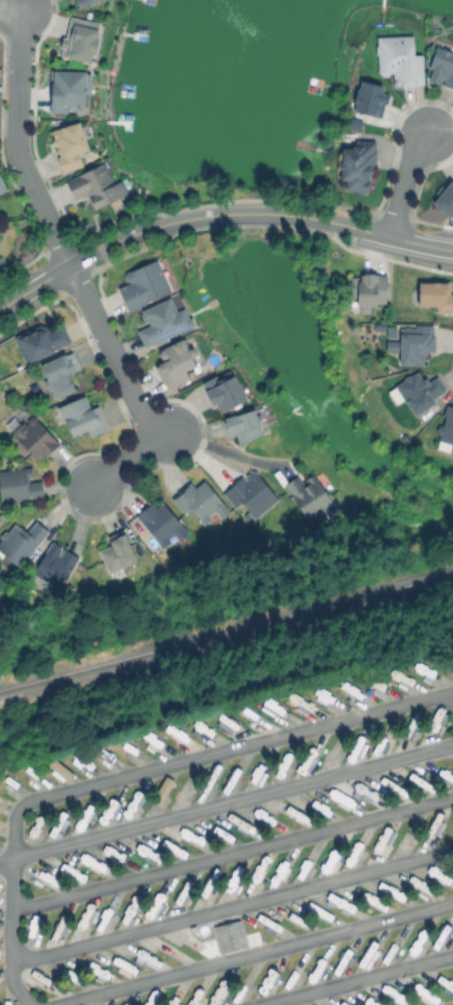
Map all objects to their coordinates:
building: (85, 1)
road: (11, 6)
building: (82, 36)
building: (400, 57)
building: (441, 63)
building: (68, 87)
building: (370, 96)
building: (355, 122)
building: (71, 143)
building: (358, 161)
road: (405, 181)
building: (3, 182)
building: (97, 184)
building: (446, 195)
road: (250, 214)
road: (334, 223)
road: (142, 231)
road: (420, 244)
building: (1, 264)
road: (73, 275)
building: (146, 282)
road: (34, 287)
building: (368, 288)
building: (435, 292)
building: (165, 320)
building: (380, 325)
building: (42, 339)
building: (414, 341)
building: (178, 361)
building: (61, 373)
building: (225, 390)
building: (420, 390)
building: (84, 415)
building: (245, 423)
building: (447, 426)
building: (35, 437)
road: (221, 449)
building: (20, 483)
building: (253, 494)
building: (311, 495)
building: (202, 501)
building: (164, 522)
building: (22, 541)
building: (119, 552)
building: (56, 565)
railway: (226, 631)
building: (100, 751)
building: (81, 760)
building: (58, 770)
building: (30, 771)
road: (134, 772)
building: (8, 782)
road: (226, 802)
building: (107, 810)
building: (60, 816)
building: (0, 825)
building: (33, 826)
road: (231, 852)
road: (230, 906)
building: (228, 936)
road: (252, 953)
road: (353, 979)

